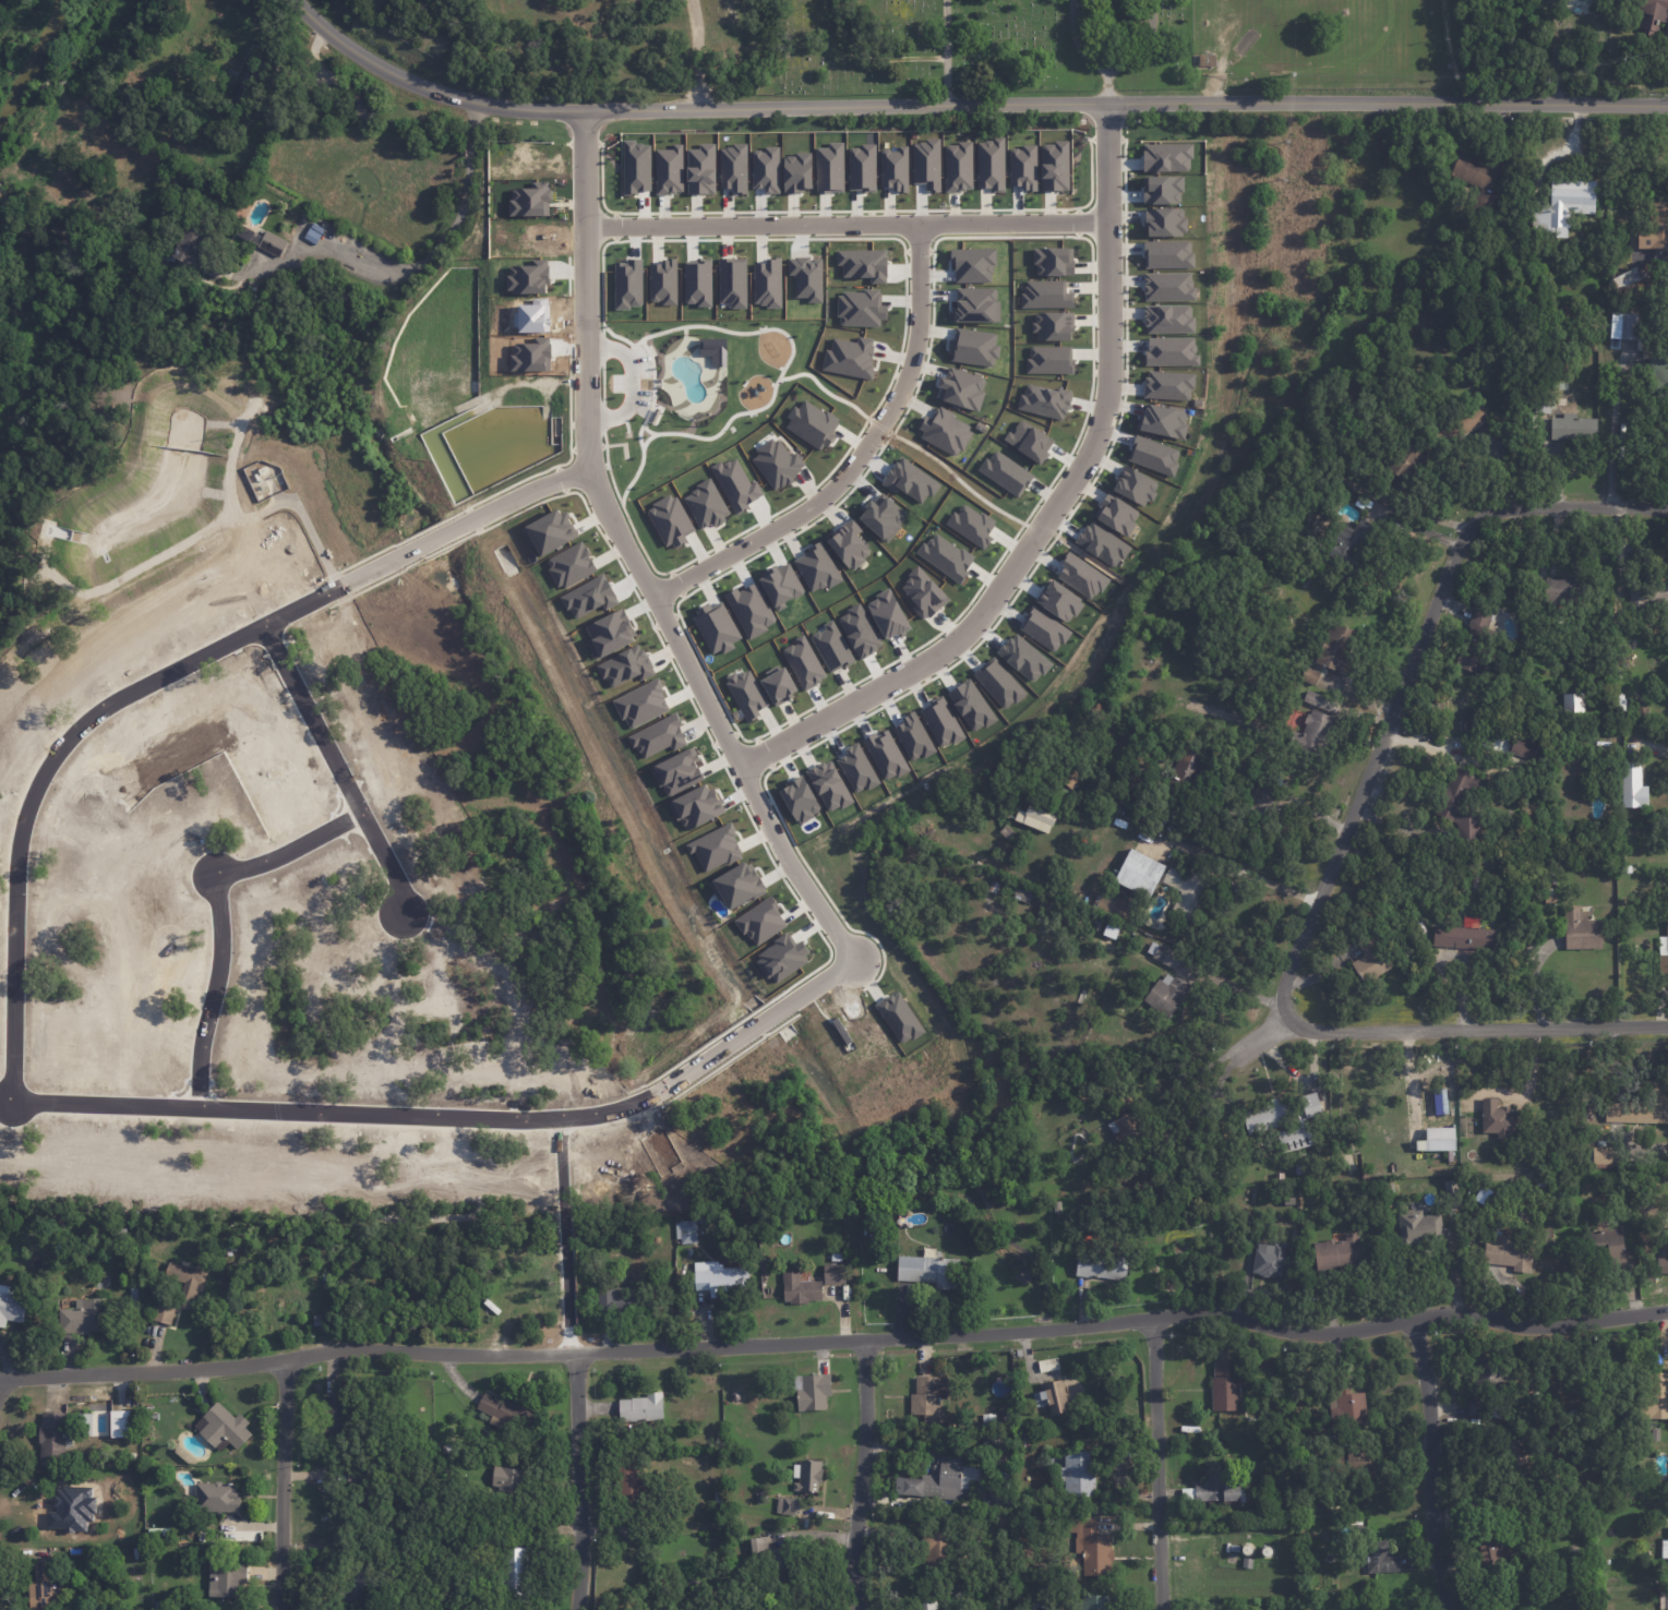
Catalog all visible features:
building: (1653, 14)
road: (1137, 39)
park: (981, 45)
road: (945, 52)
road: (695, 53)
road: (1088, 55)
building: (1207, 60)
building: (250, 99)
road: (962, 105)
building: (362, 108)
building: (255, 153)
building: (1165, 156)
building: (925, 163)
building: (988, 163)
building: (1053, 165)
building: (635, 166)
building: (957, 166)
building: (1022, 166)
building: (732, 167)
building: (828, 167)
building: (861, 167)
building: (699, 168)
building: (765, 168)
building: (893, 168)
building: (668, 169)
building: (795, 171)
building: (1477, 178)
building: (1161, 189)
building: (528, 199)
building: (1565, 202)
building: (1163, 220)
road: (847, 224)
building: (1653, 228)
building: (263, 239)
building: (192, 247)
road: (431, 247)
building: (163, 253)
building: (1166, 253)
building: (1051, 261)
building: (862, 263)
building: (971, 265)
building: (805, 276)
building: (526, 277)
building: (1625, 278)
building: (661, 281)
building: (731, 281)
building: (696, 283)
building: (766, 283)
building: (626, 284)
building: (1167, 286)
building: (1044, 293)
building: (1471, 296)
building: (974, 304)
building: (857, 308)
building: (1167, 317)
building: (1624, 324)
building: (1051, 325)
building: (972, 347)
building: (712, 349)
building: (1169, 350)
building: (530, 353)
building: (849, 357)
building: (1047, 359)
building: (1659, 370)
road: (629, 382)
building: (1167, 384)
building: (960, 388)
building: (1043, 400)
building: (1543, 403)
building: (1162, 420)
building: (1460, 422)
building: (811, 423)
road: (1609, 424)
building: (1574, 428)
building: (944, 431)
building: (1028, 441)
building: (1152, 455)
road: (852, 457)
building: (1405, 457)
building: (776, 462)
building: (1004, 472)
building: (909, 480)
building: (734, 483)
building: (1133, 485)
building: (704, 504)
road: (1057, 510)
road: (1418, 512)
building: (1115, 514)
building: (880, 516)
building: (668, 520)
building: (970, 525)
building: (548, 531)
building: (1351, 540)
building: (848, 543)
building: (1101, 543)
building: (945, 555)
road: (632, 560)
building: (568, 564)
building: (815, 567)
building: (1080, 576)
building: (779, 585)
building: (922, 592)
building: (1563, 592)
building: (587, 597)
building: (1647, 597)
building: (1057, 601)
building: (749, 609)
building: (886, 614)
building: (715, 627)
building: (1043, 629)
building: (857, 630)
building: (607, 633)
building: (1476, 639)
building: (830, 647)
building: (1336, 647)
building: (1022, 658)
building: (1625, 660)
building: (802, 661)
building: (623, 666)
road: (1408, 669)
road: (155, 673)
building: (1309, 675)
building: (997, 683)
building: (776, 684)
building: (745, 693)
building: (1320, 701)
building: (1573, 702)
building: (639, 704)
building: (970, 706)
building: (1642, 707)
building: (940, 722)
building: (1465, 725)
building: (1313, 733)
building: (657, 736)
building: (911, 737)
building: (1522, 746)
building: (884, 754)
road: (338, 760)
building: (855, 768)
building: (675, 771)
building: (1077, 771)
building: (1185, 771)
building: (1269, 781)
building: (827, 785)
building: (1633, 785)
building: (797, 798)
building: (1462, 804)
building: (694, 807)
building: (1033, 817)
road: (1400, 827)
building: (713, 848)
building: (1627, 869)
building: (1139, 873)
road: (1255, 880)
building: (1552, 884)
building: (735, 886)
building: (1186, 889)
building: (1022, 891)
building: (1549, 891)
building: (1550, 900)
road: (221, 906)
building: (759, 921)
building: (1582, 929)
building: (1464, 937)
building: (36, 939)
building: (520, 948)
building: (53, 953)
building: (1664, 954)
building: (1167, 956)
building: (180, 958)
building: (780, 958)
building: (1370, 958)
road: (1236, 990)
building: (1166, 995)
building: (897, 1018)
road: (1476, 1022)
road: (1262, 1031)
road: (1190, 1074)
building: (1116, 1077)
building: (1124, 1098)
building: (1661, 1102)
road: (454, 1106)
building: (1496, 1118)
building: (1285, 1121)
building: (1129, 1129)
building: (1436, 1139)
building: (1599, 1156)
building: (1298, 1170)
building: (1279, 1177)
building: (1450, 1186)
building: (1480, 1194)
building: (1289, 1201)
building: (715, 1216)
building: (704, 1218)
building: (1600, 1218)
building: (1419, 1227)
building: (1475, 1228)
building: (872, 1230)
building: (685, 1231)
building: (119, 1233)
building: (1476, 1236)
building: (725, 1242)
building: (1609, 1246)
building: (98, 1252)
building: (1664, 1252)
building: (1339, 1253)
building: (1508, 1254)
building: (839, 1258)
building: (879, 1260)
building: (1633, 1261)
building: (1270, 1262)
building: (1101, 1267)
building: (1502, 1271)
building: (928, 1272)
building: (833, 1274)
building: (719, 1279)
building: (326, 1281)
building: (800, 1288)
building: (187, 1294)
building: (132, 1298)
building: (622, 1300)
building: (13, 1309)
building: (83, 1317)
road: (836, 1333)
building: (1019, 1350)
road: (574, 1359)
building: (1048, 1365)
building: (1485, 1382)
building: (1279, 1386)
building: (1225, 1387)
building: (812, 1391)
building: (1052, 1396)
building: (1657, 1398)
building: (929, 1399)
building: (640, 1407)
building: (1346, 1407)
building: (504, 1411)
building: (153, 1415)
building: (333, 1417)
building: (1584, 1417)
building: (1007, 1420)
building: (121, 1423)
building: (989, 1425)
building: (223, 1428)
building: (1656, 1435)
building: (58, 1438)
building: (991, 1439)
building: (1023, 1439)
building: (525, 1455)
building: (132, 1456)
building: (1515, 1458)
road: (1160, 1459)
road: (1432, 1459)
building: (1243, 1462)
building: (1355, 1463)
road: (862, 1471)
building: (1077, 1473)
building: (1004, 1474)
building: (807, 1475)
building: (943, 1479)
road: (285, 1480)
building: (631, 1481)
building: (506, 1482)
building: (979, 1487)
building: (364, 1489)
building: (1215, 1489)
building: (215, 1497)
building: (761, 1497)
building: (1282, 1498)
building: (998, 1500)
building: (720, 1503)
building: (785, 1505)
building: (1357, 1522)
building: (1577, 1524)
building: (154, 1530)
building: (735, 1535)
building: (444, 1545)
building: (1091, 1547)
building: (1234, 1549)
building: (1665, 1550)
building: (934, 1551)
building: (1492, 1551)
building: (1380, 1559)
building: (775, 1560)
building: (1247, 1564)
building: (511, 1574)
building: (224, 1576)
building: (1498, 1582)
building: (49, 1586)
building: (353, 1586)
building: (1095, 1602)
building: (926, 1605)
building: (163, 1606)
building: (1246, 1609)

